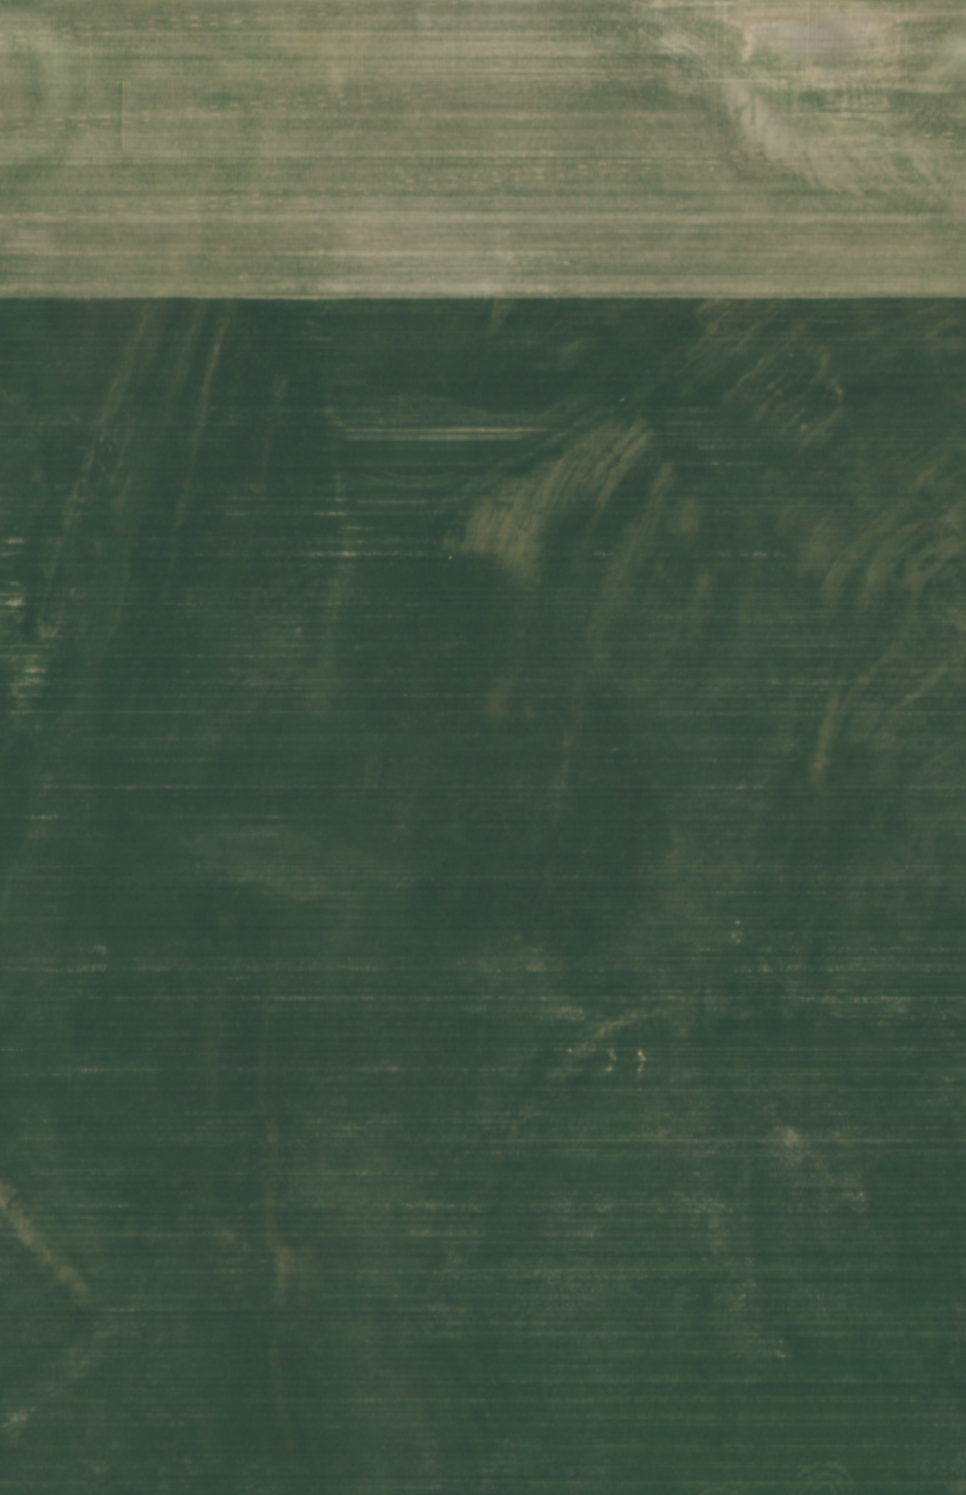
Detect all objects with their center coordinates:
road: (483, 304)

